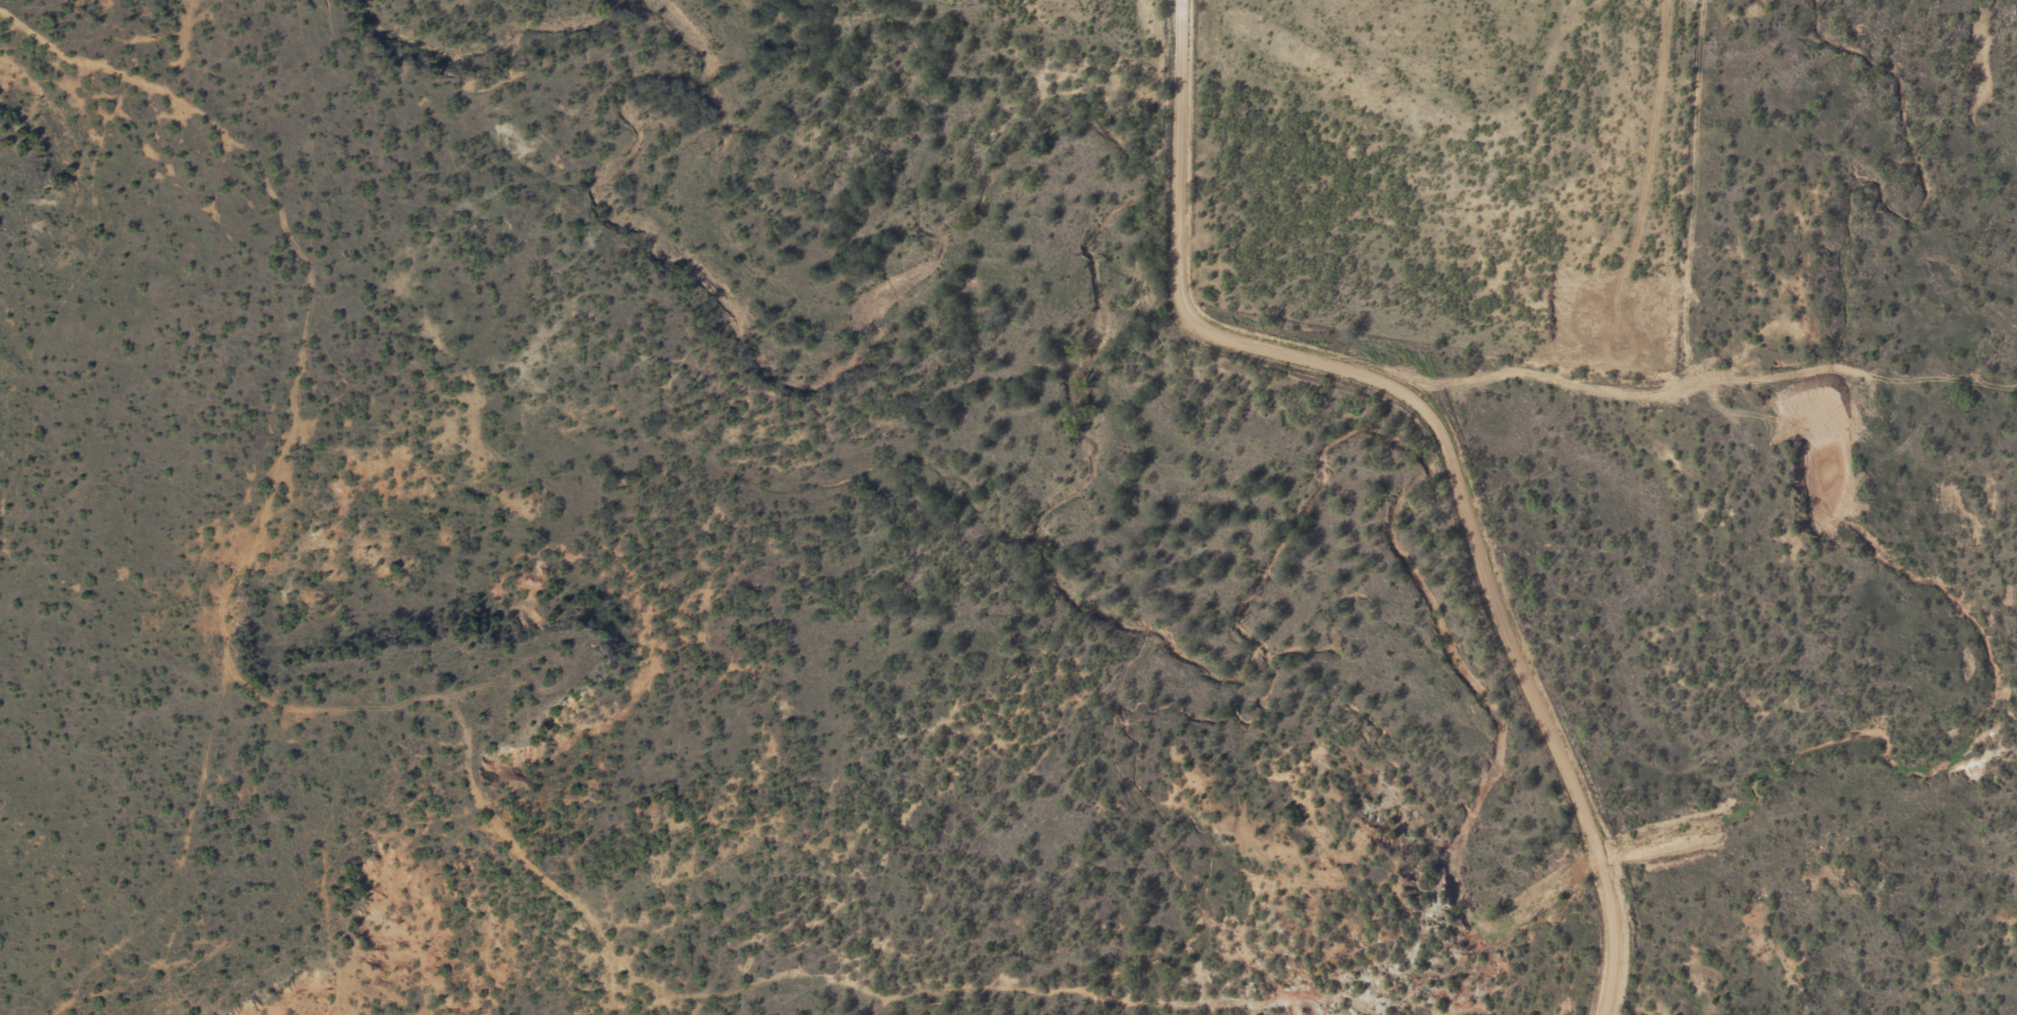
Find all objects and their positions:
road: (1447, 438)

